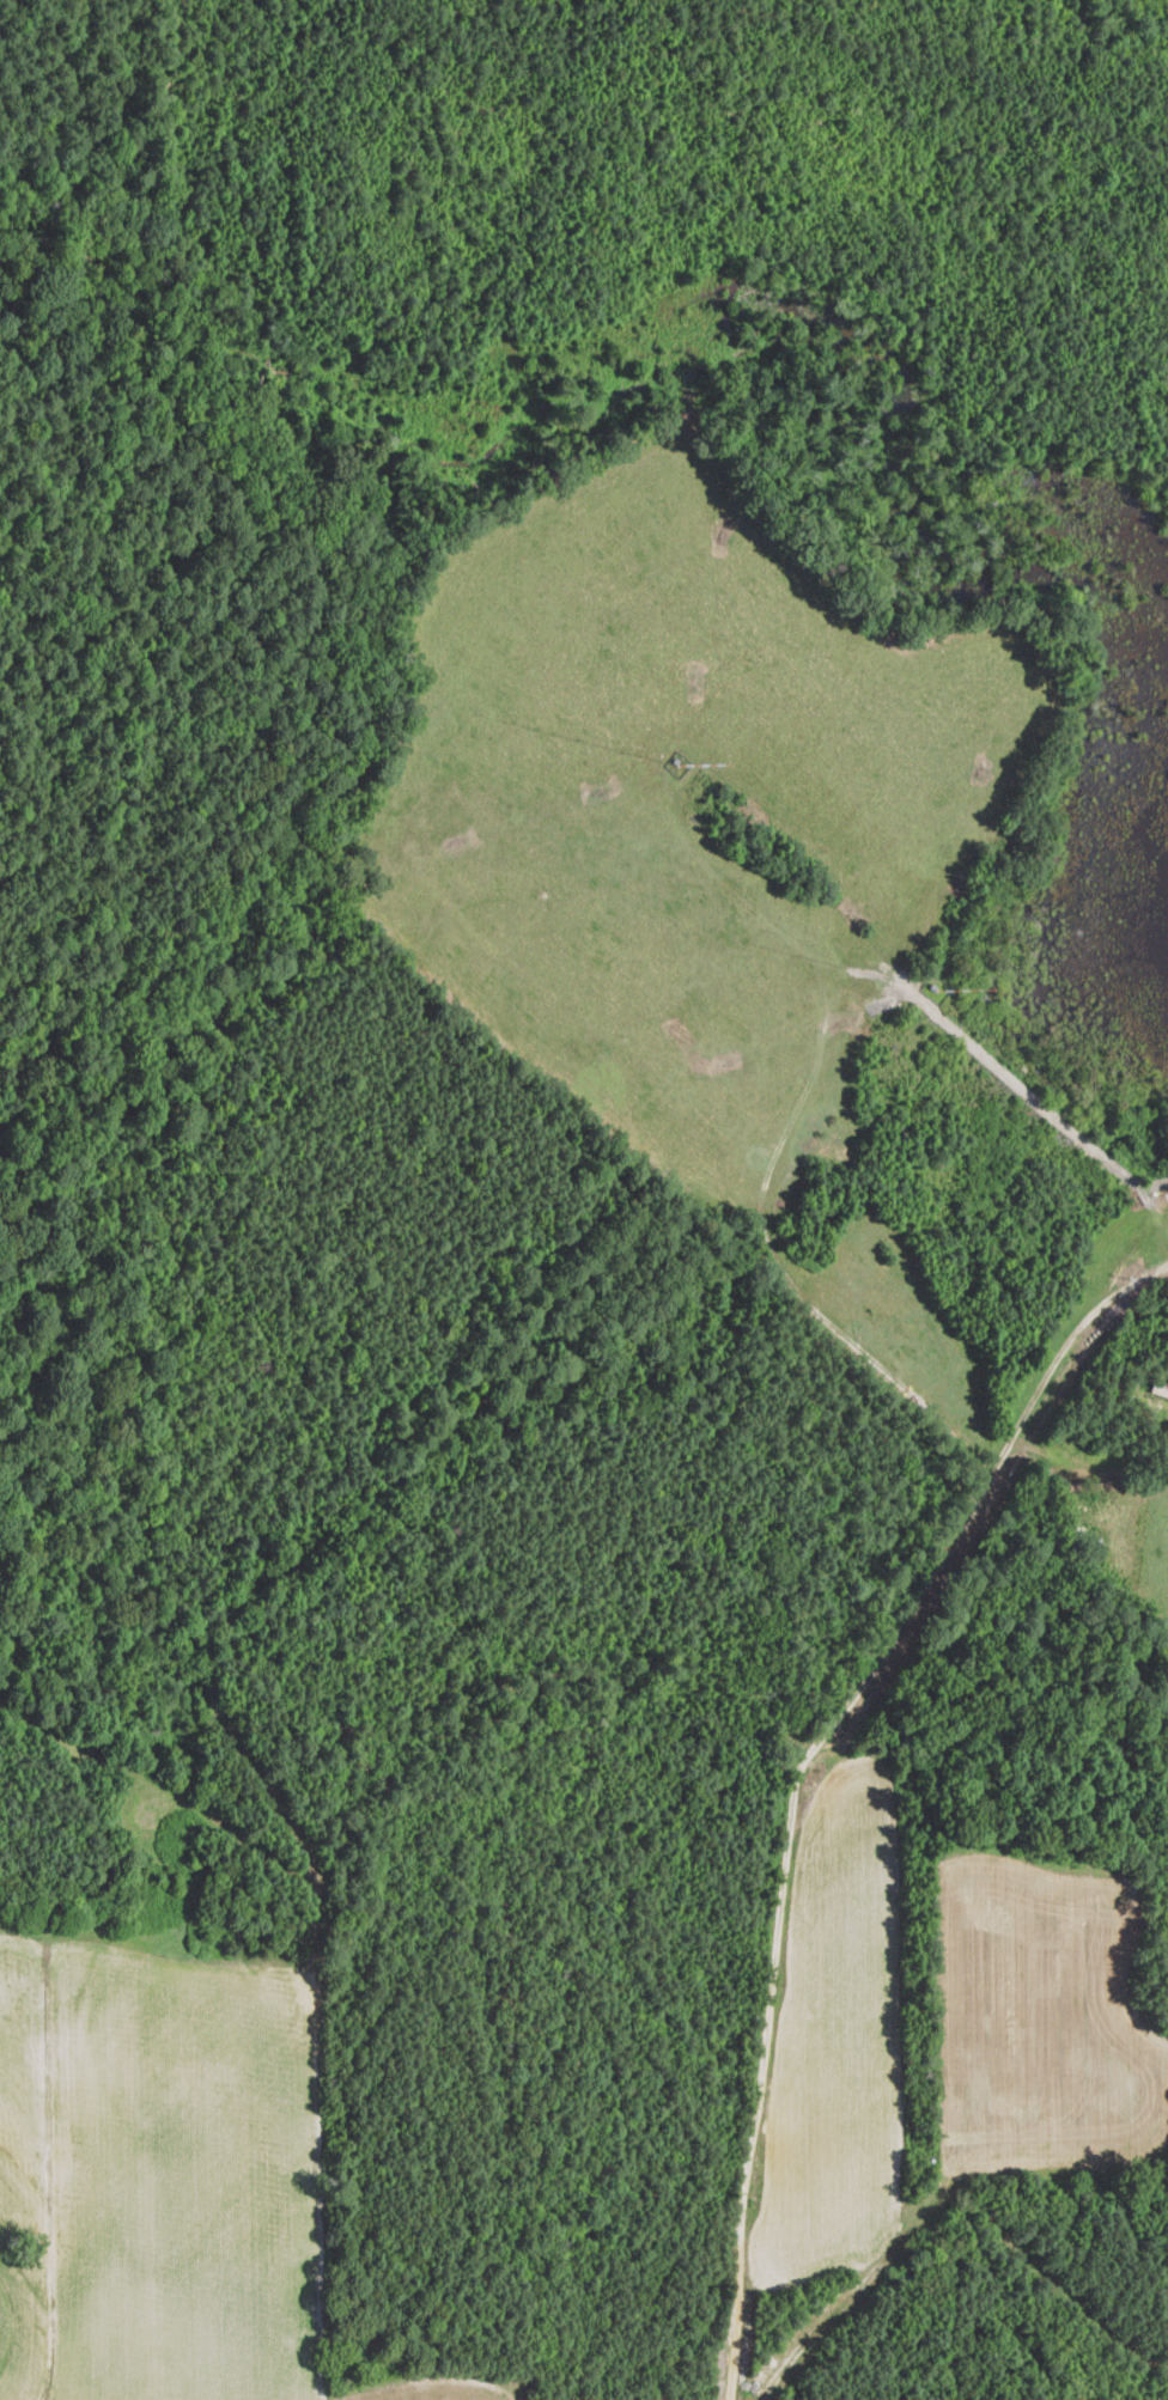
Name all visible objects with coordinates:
building: (1160, 1388)
road: (802, 1772)

